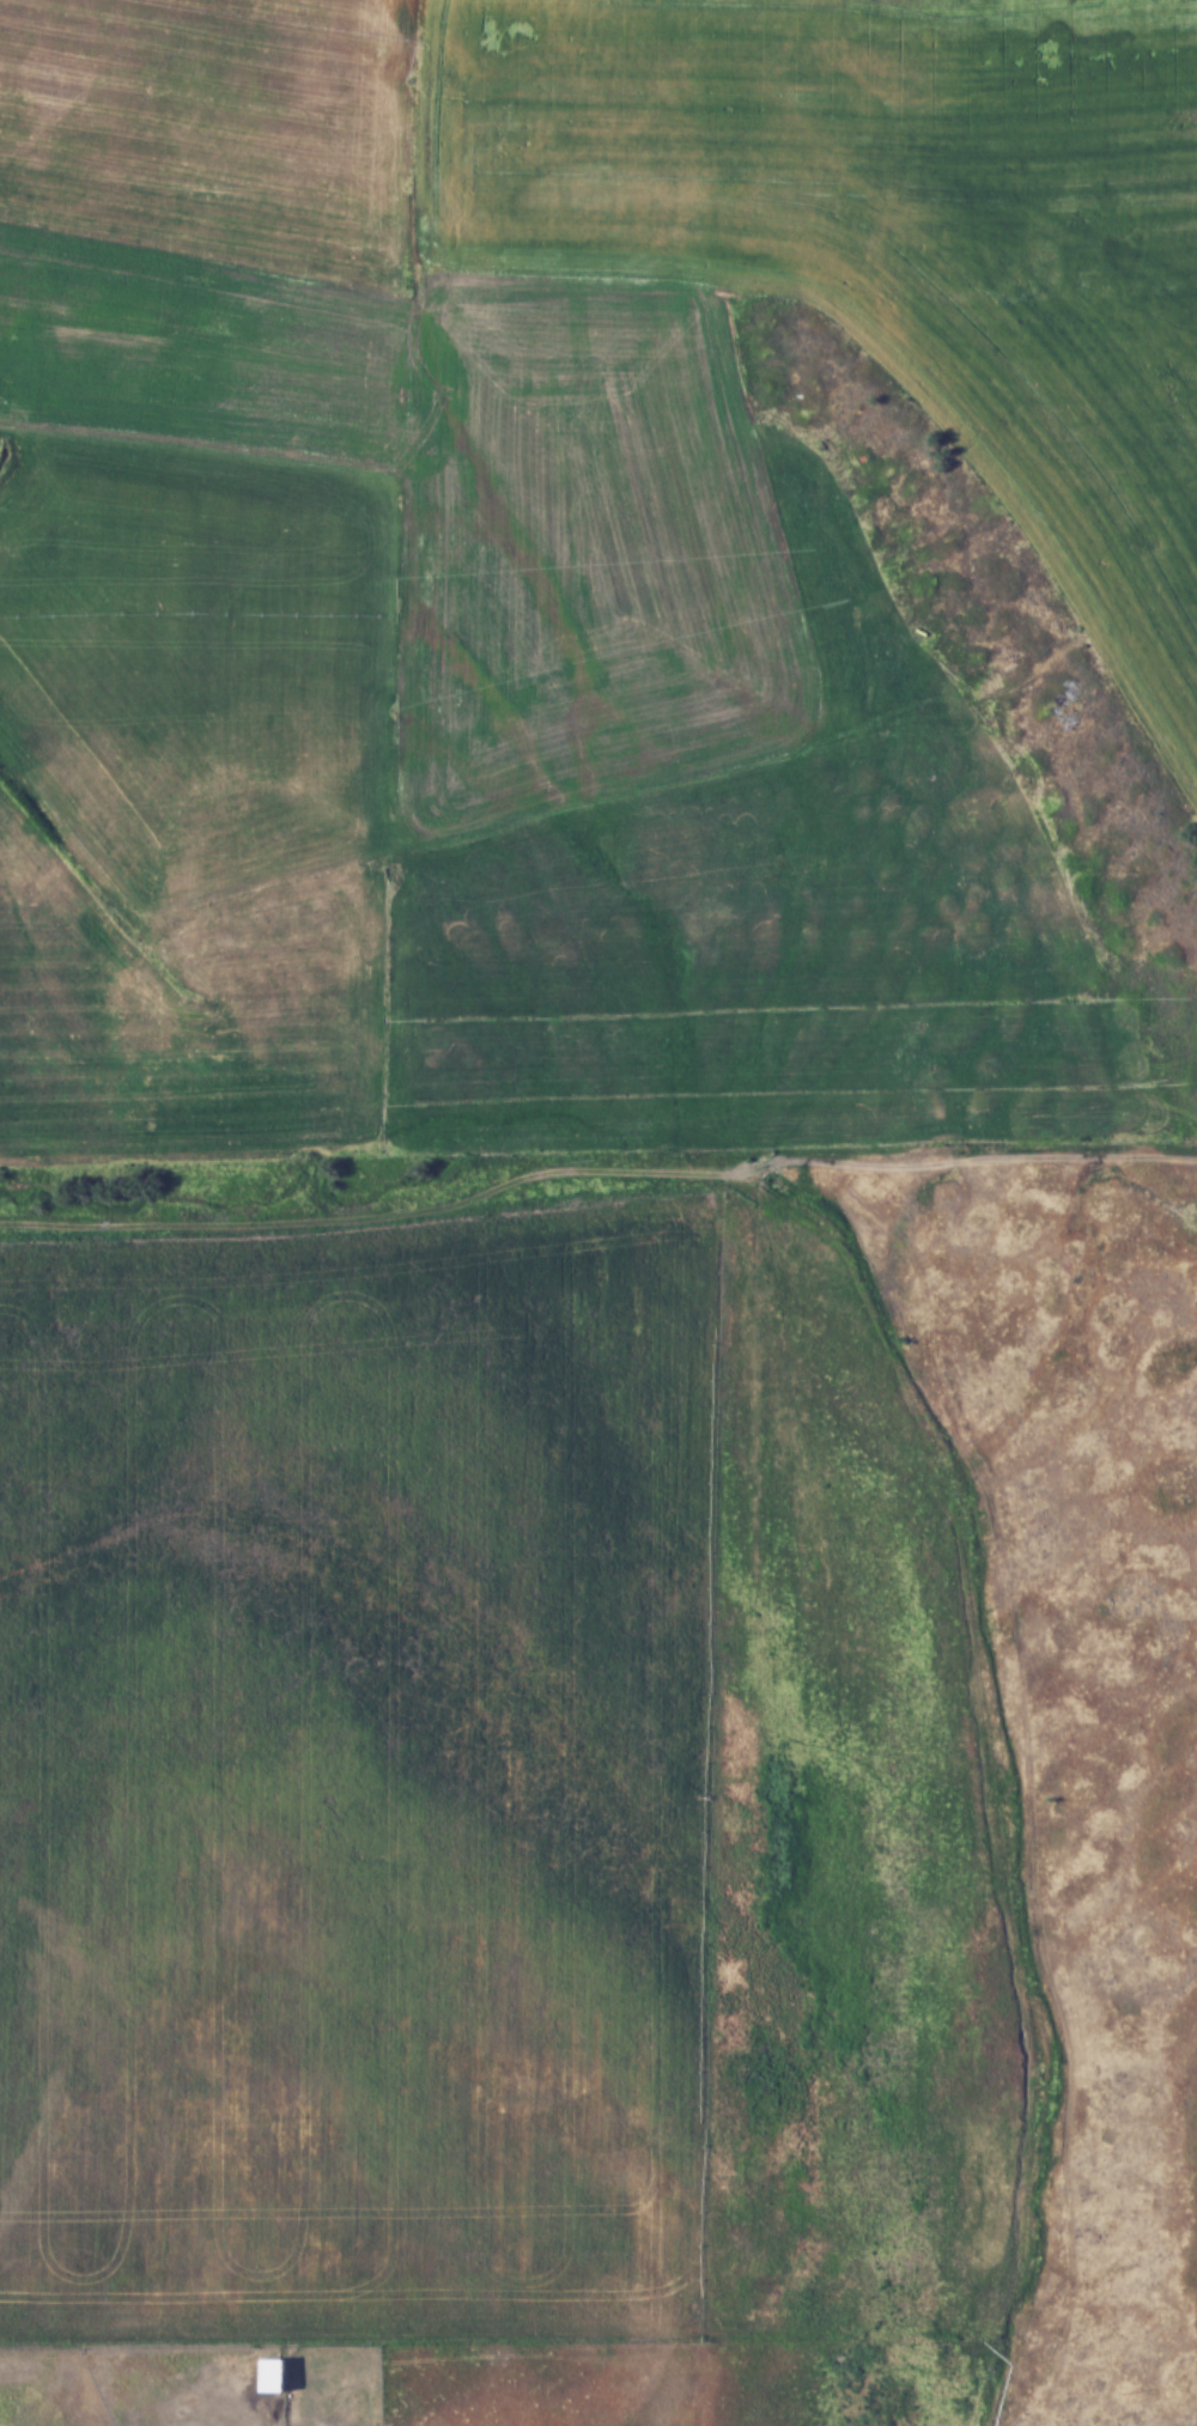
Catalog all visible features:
road: (596, 1173)

